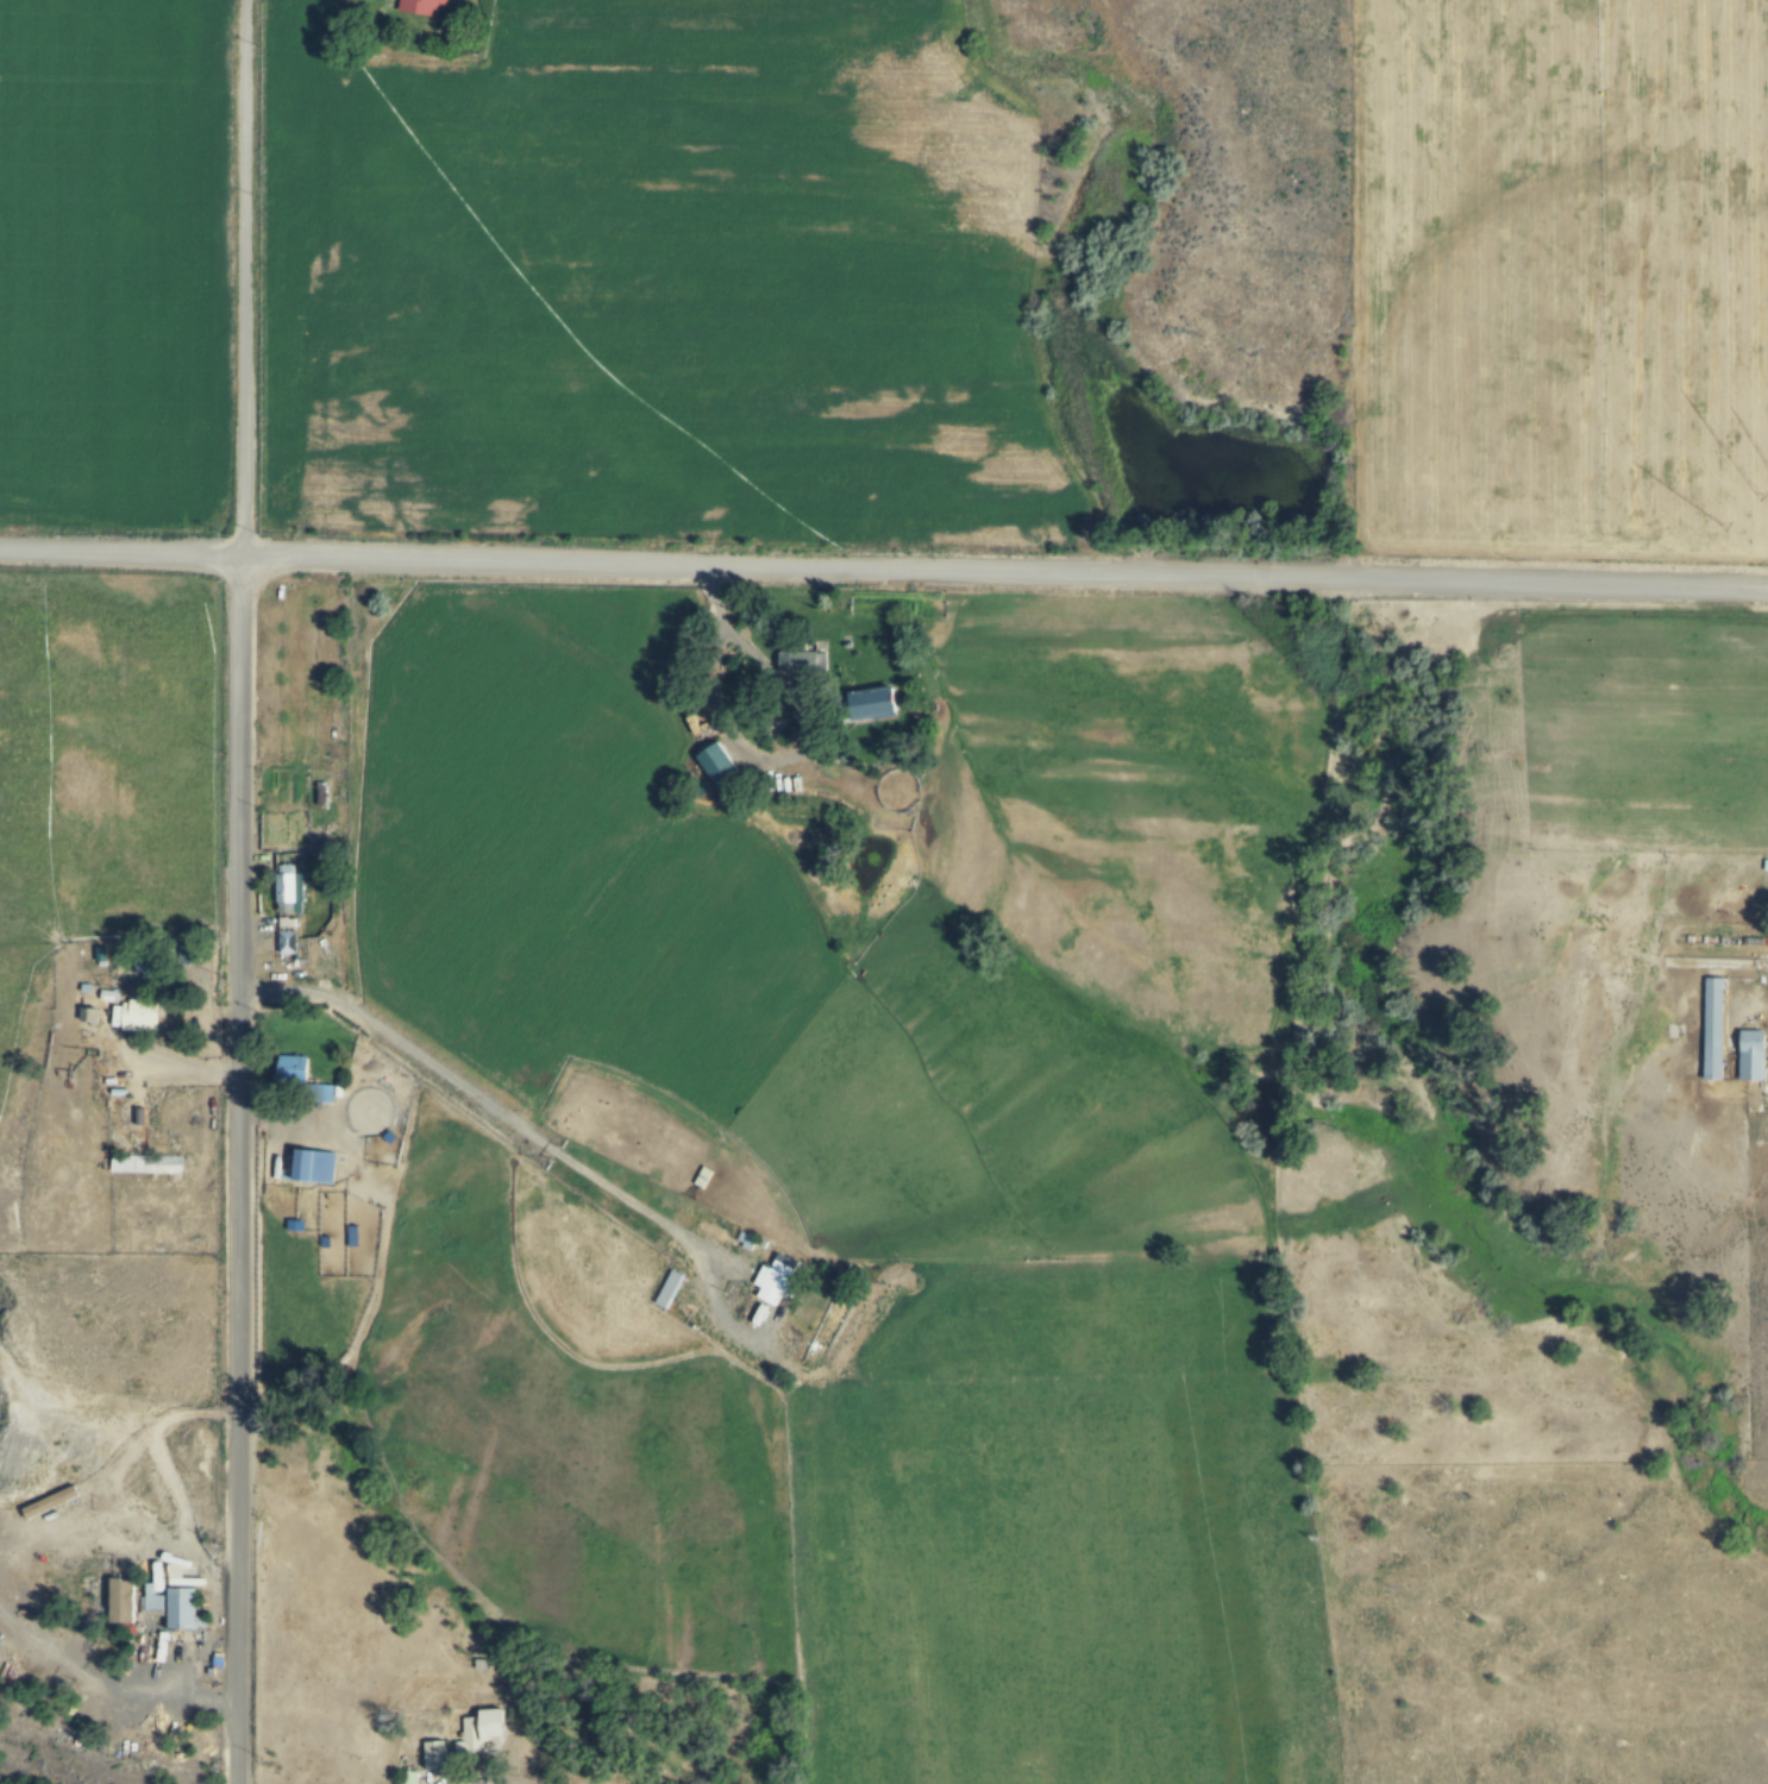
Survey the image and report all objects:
building: (421, 7)
road: (884, 569)
building: (805, 661)
building: (873, 703)
building: (715, 764)
building: (305, 887)
road: (238, 892)
building: (284, 894)
building: (286, 942)
building: (188, 954)
building: (86, 988)
building: (108, 995)
road: (1761, 1000)
building: (88, 1016)
building: (142, 1016)
building: (1712, 1029)
building: (1750, 1055)
road: (214, 1075)
building: (300, 1080)
road: (363, 1082)
building: (117, 1092)
road: (332, 1133)
building: (388, 1138)
road: (554, 1151)
building: (146, 1164)
building: (313, 1166)
building: (703, 1179)
building: (351, 1236)
building: (324, 1243)
building: (747, 1243)
building: (761, 1243)
building: (775, 1282)
road: (372, 1288)
building: (669, 1289)
road: (162, 1471)
road: (1397, 1475)
building: (121, 1600)
building: (151, 1600)
building: (181, 1608)
road: (31, 1638)
building: (215, 1663)
road: (184, 1681)
road: (148, 1689)
building: (493, 1725)
building: (470, 1728)
building: (434, 1755)
road: (1611, 1761)
building: (410, 1777)
road: (481, 1779)

